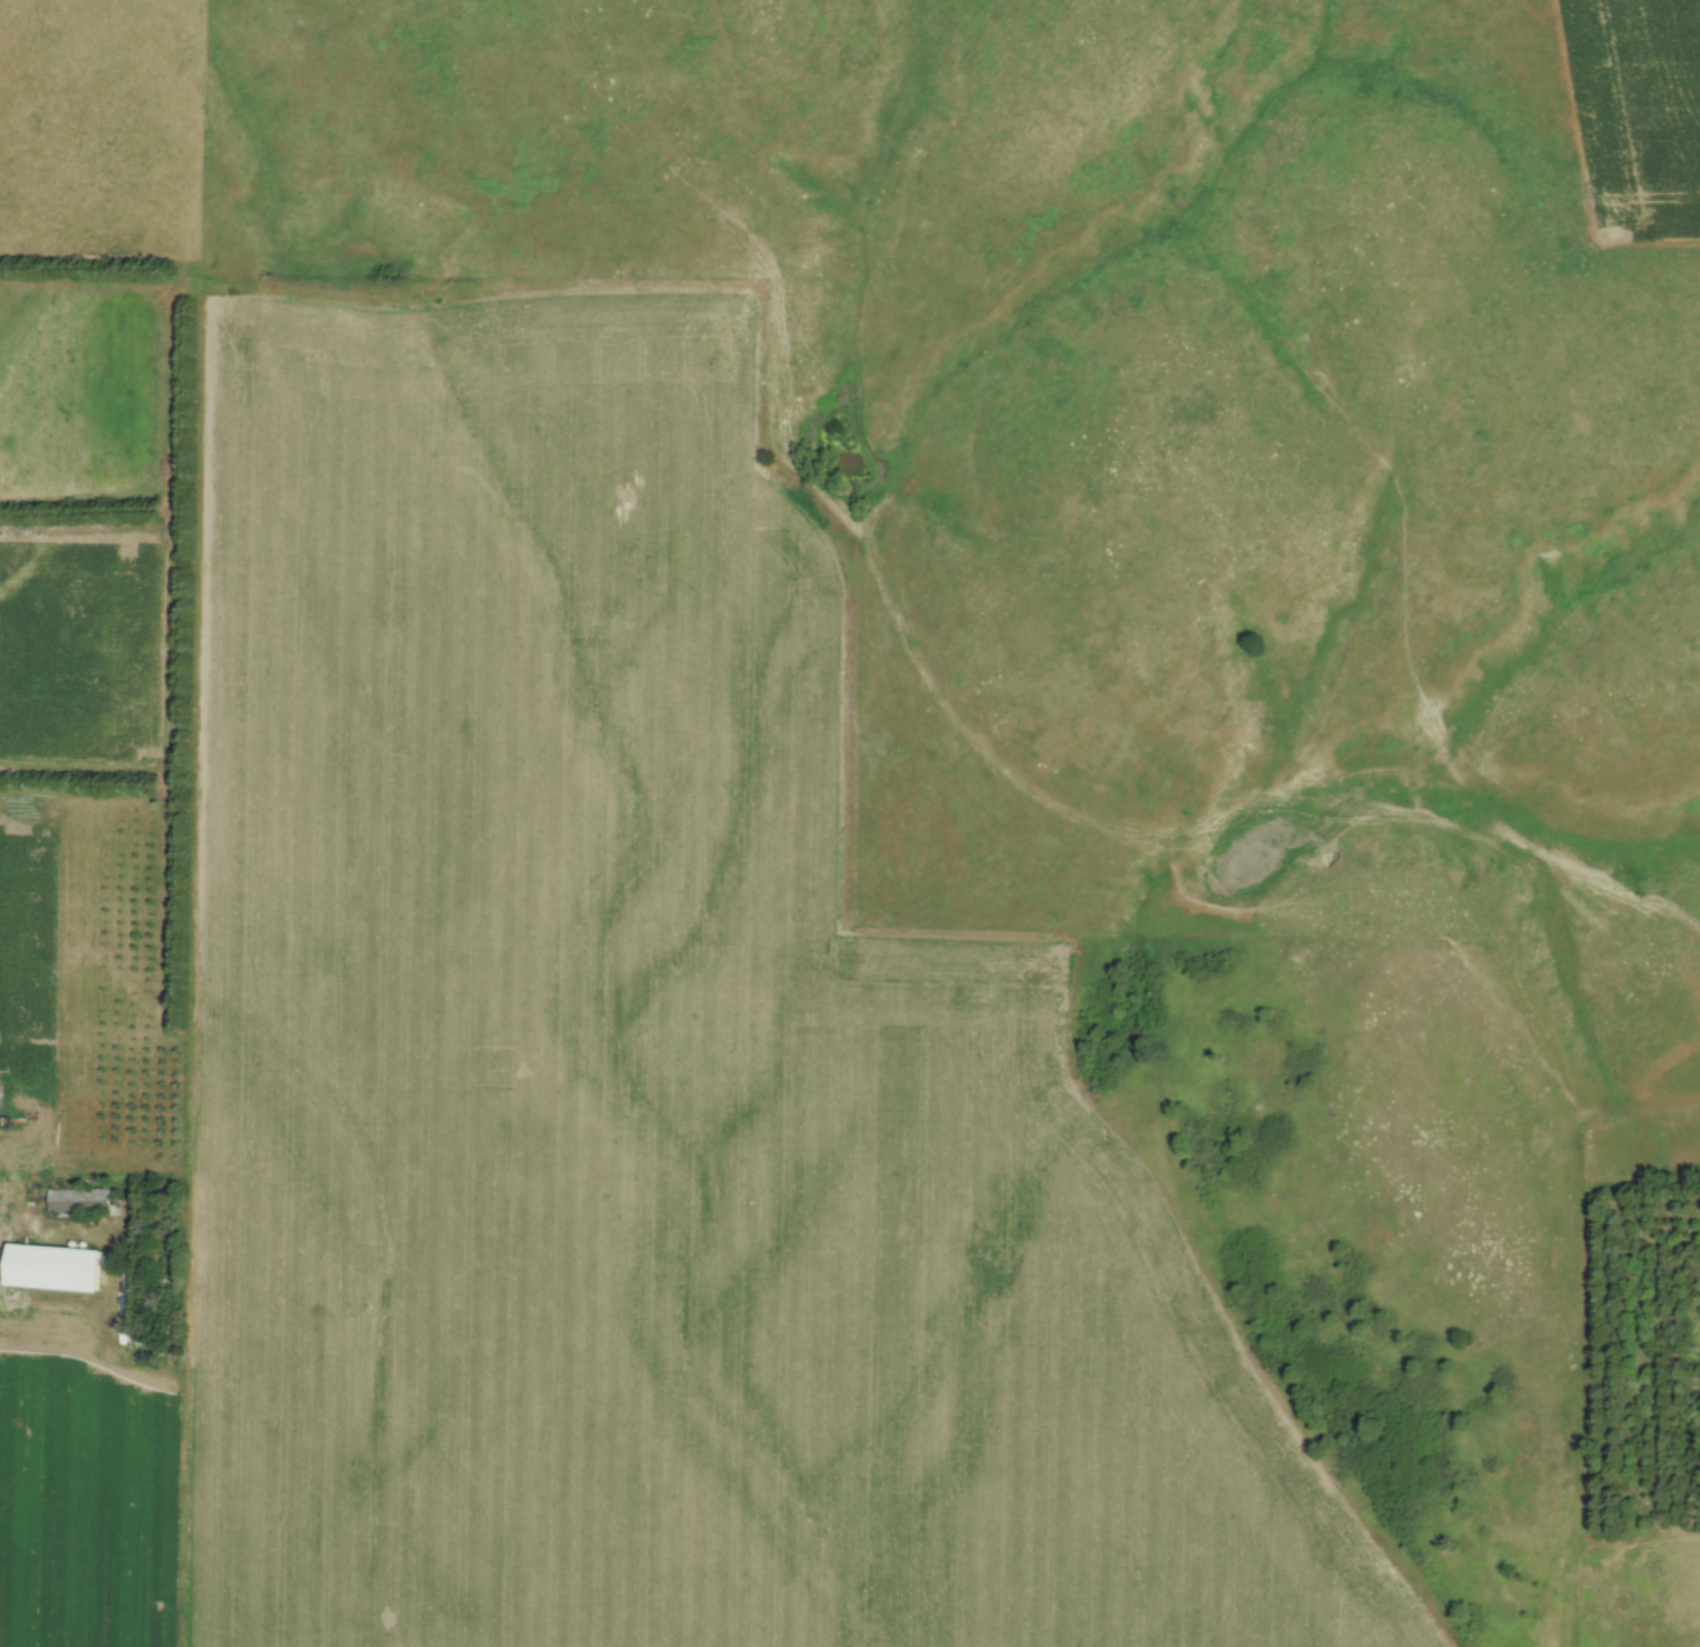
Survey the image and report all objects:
building: (79, 1202)

